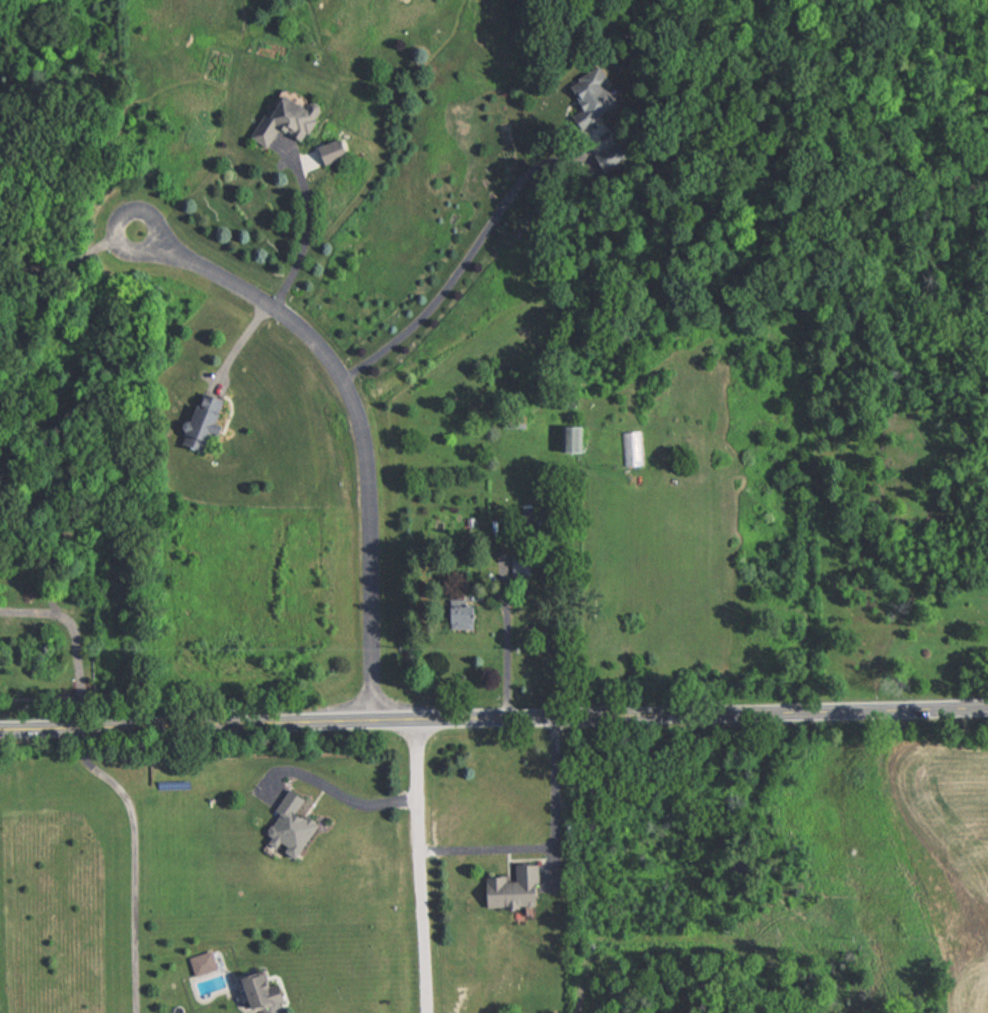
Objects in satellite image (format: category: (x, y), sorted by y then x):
building: (595, 83)
building: (294, 117)
road: (309, 226)
road: (463, 262)
road: (71, 263)
road: (239, 351)
building: (211, 415)
road: (361, 420)
building: (577, 439)
building: (522, 565)
building: (468, 617)
road: (506, 653)
road: (493, 718)
road: (338, 791)
building: (296, 826)
road: (548, 842)
road: (137, 856)
road: (423, 866)
building: (518, 889)
building: (270, 991)

